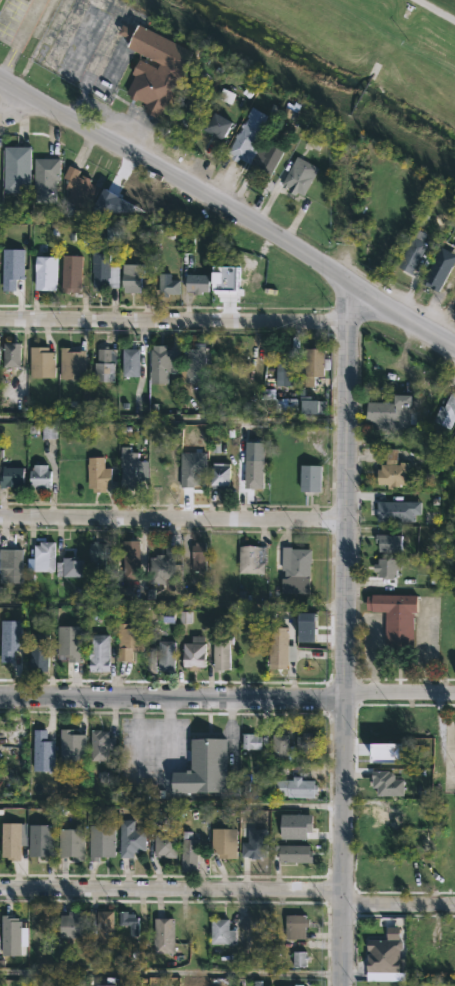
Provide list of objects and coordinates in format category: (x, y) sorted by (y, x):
building: (1, 2)
road: (438, 9)
park: (341, 60)
building: (154, 67)
building: (192, 105)
road: (19, 106)
building: (216, 126)
building: (245, 142)
building: (265, 160)
building: (16, 169)
building: (298, 176)
building: (44, 179)
building: (78, 188)
building: (114, 205)
road: (226, 207)
building: (408, 260)
building: (10, 265)
building: (102, 272)
building: (44, 273)
building: (436, 273)
building: (70, 274)
building: (230, 277)
building: (131, 278)
building: (196, 283)
building: (167, 285)
road: (173, 320)
building: (10, 354)
building: (159, 359)
building: (71, 362)
building: (130, 362)
building: (40, 363)
building: (287, 363)
building: (104, 364)
building: (194, 364)
building: (312, 365)
building: (304, 405)
building: (446, 410)
building: (389, 415)
building: (453, 440)
building: (253, 465)
building: (191, 467)
building: (132, 469)
building: (391, 470)
building: (11, 472)
building: (97, 475)
building: (38, 476)
building: (218, 476)
building: (309, 478)
building: (395, 508)
road: (173, 519)
building: (387, 541)
building: (197, 555)
building: (41, 556)
building: (134, 557)
building: (251, 559)
building: (95, 562)
building: (10, 565)
building: (69, 566)
building: (163, 566)
building: (385, 567)
building: (293, 568)
building: (395, 619)
building: (307, 627)
road: (345, 631)
building: (9, 636)
building: (128, 638)
building: (68, 641)
building: (278, 646)
building: (220, 651)
building: (98, 652)
building: (193, 652)
building: (165, 655)
building: (39, 657)
building: (313, 659)
road: (227, 696)
building: (304, 741)
building: (253, 742)
building: (99, 744)
building: (279, 745)
building: (74, 746)
building: (44, 750)
building: (204, 767)
building: (295, 784)
building: (381, 814)
building: (296, 823)
building: (130, 838)
building: (14, 839)
building: (42, 840)
building: (100, 840)
building: (223, 842)
building: (73, 843)
building: (256, 843)
building: (164, 844)
building: (188, 852)
building: (294, 853)
road: (227, 893)
building: (127, 921)
building: (72, 924)
building: (294, 925)
building: (103, 927)
building: (221, 931)
building: (11, 934)
building: (164, 935)
building: (301, 960)
building: (104, 984)
building: (297, 984)
building: (238, 985)

